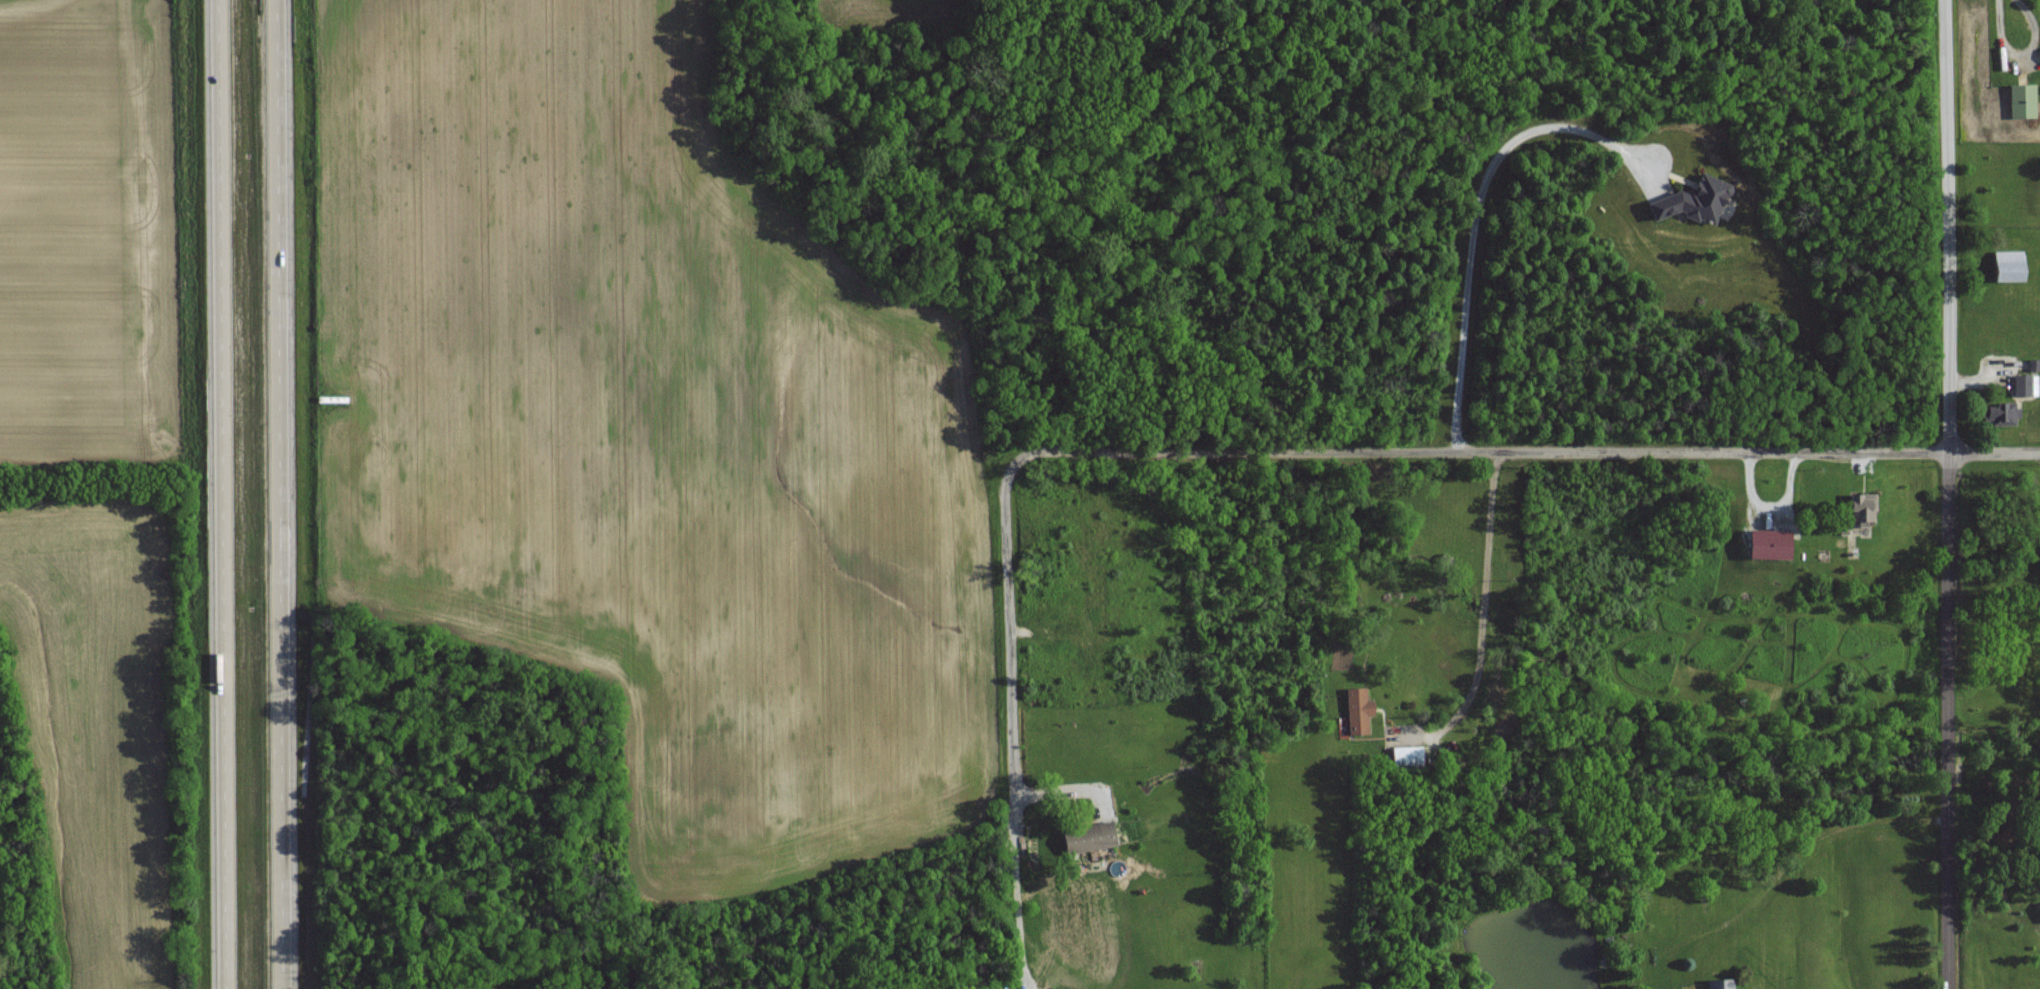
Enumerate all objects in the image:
road: (2019, 60)
building: (2023, 100)
building: (1694, 200)
road: (1473, 227)
building: (2008, 265)
building: (2025, 385)
building: (1995, 413)
road: (1321, 452)
road: (218, 494)
road: (279, 494)
road: (1947, 494)
building: (1863, 508)
building: (1769, 543)
road: (1480, 613)
building: (1358, 710)
building: (1407, 754)
building: (1083, 836)
road: (1020, 928)
building: (1721, 984)

